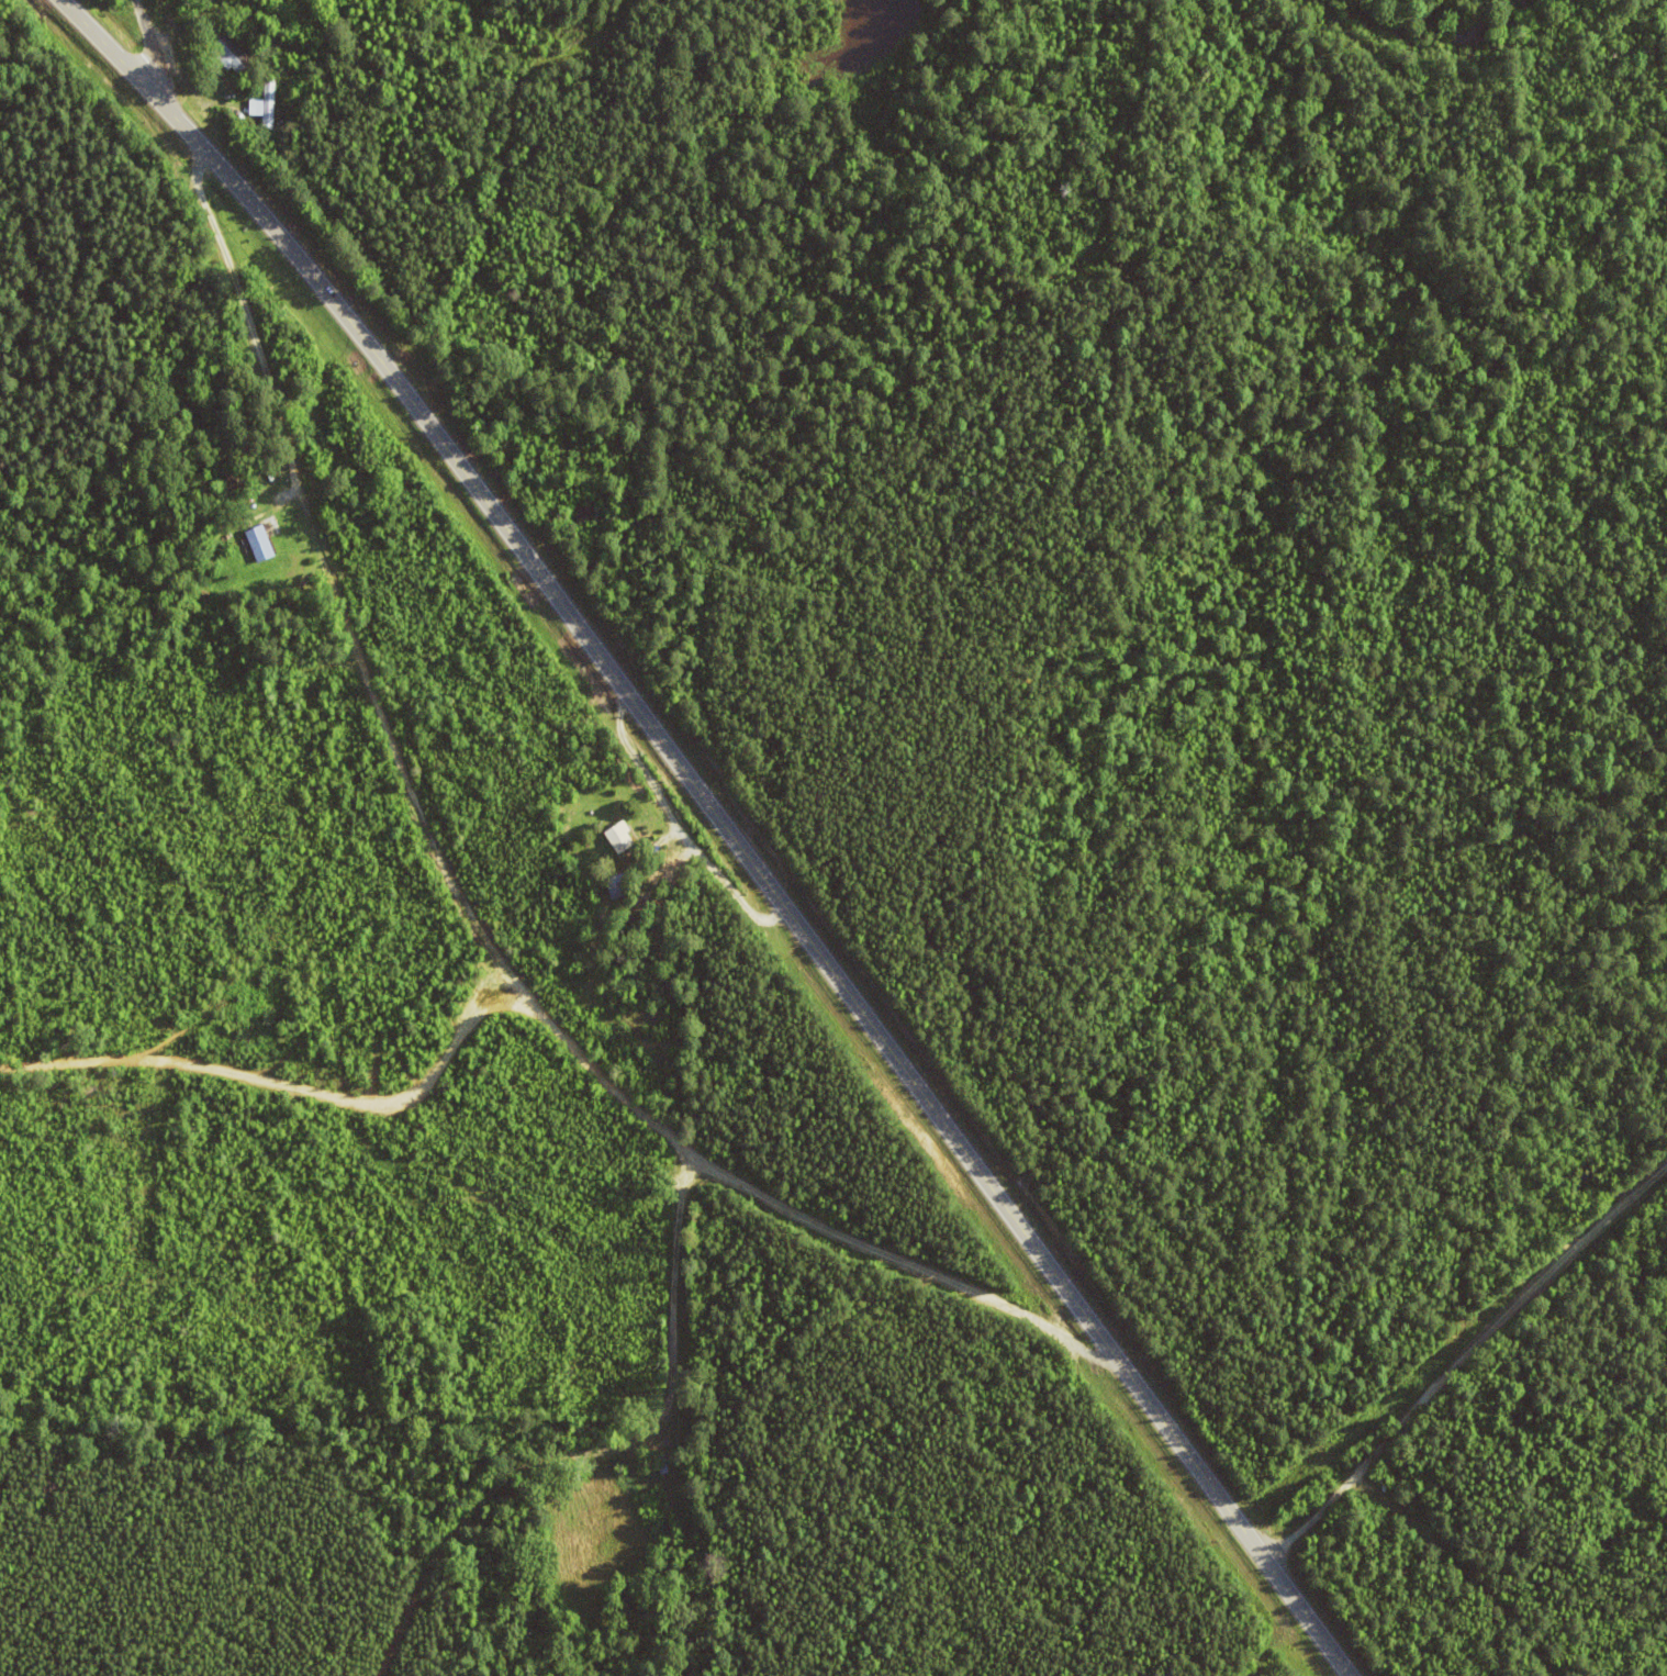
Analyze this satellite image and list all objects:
road: (720, 823)
road: (430, 837)
road: (288, 1085)
road: (1461, 1353)

